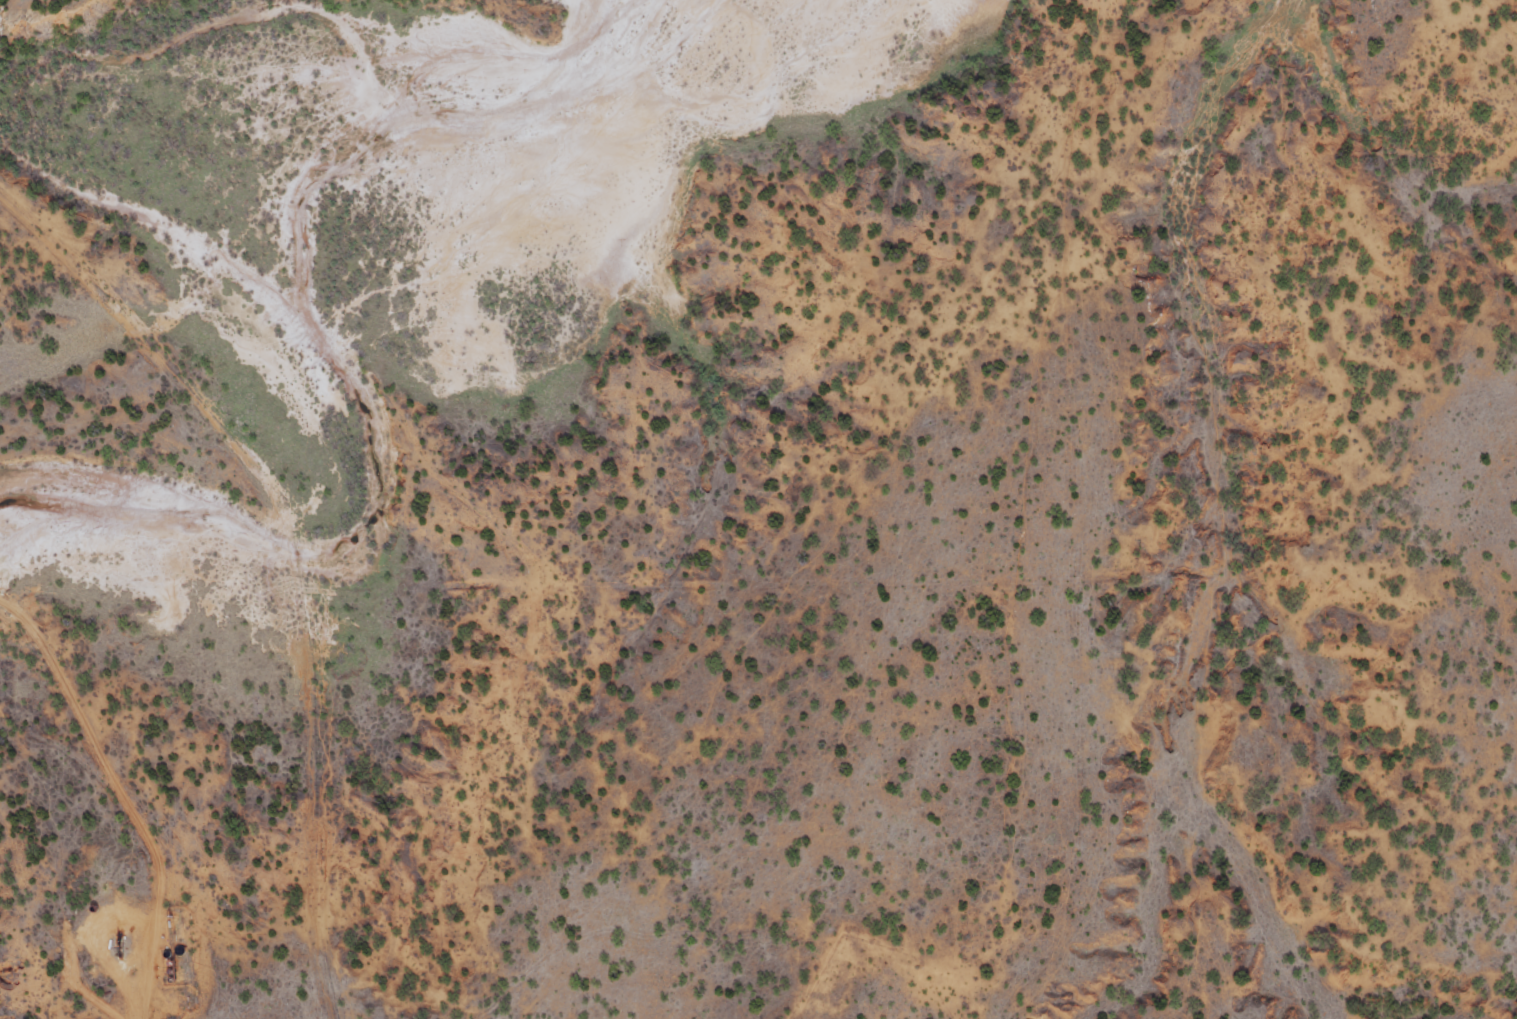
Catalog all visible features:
road: (84, 820)

